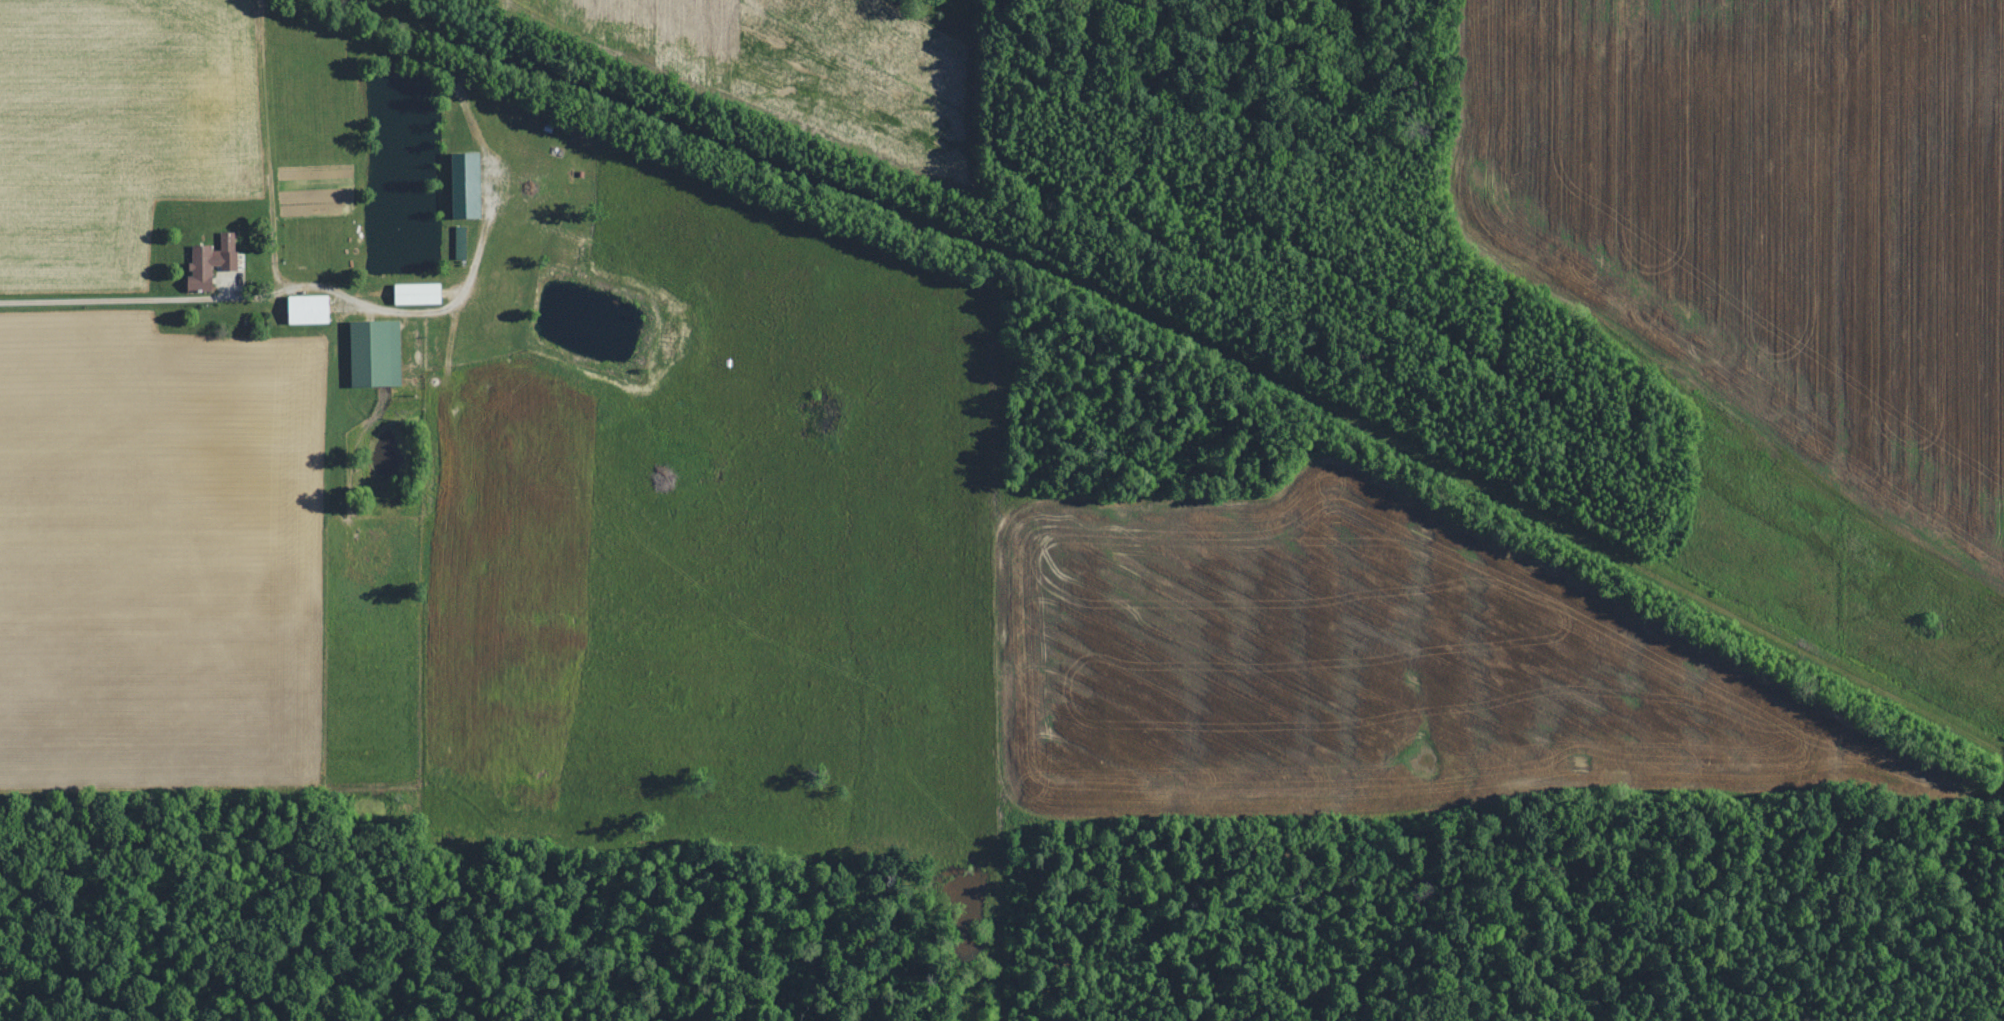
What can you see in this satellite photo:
building: (465, 183)
building: (455, 241)
building: (208, 263)
building: (416, 292)
road: (114, 294)
building: (307, 307)
building: (374, 351)

